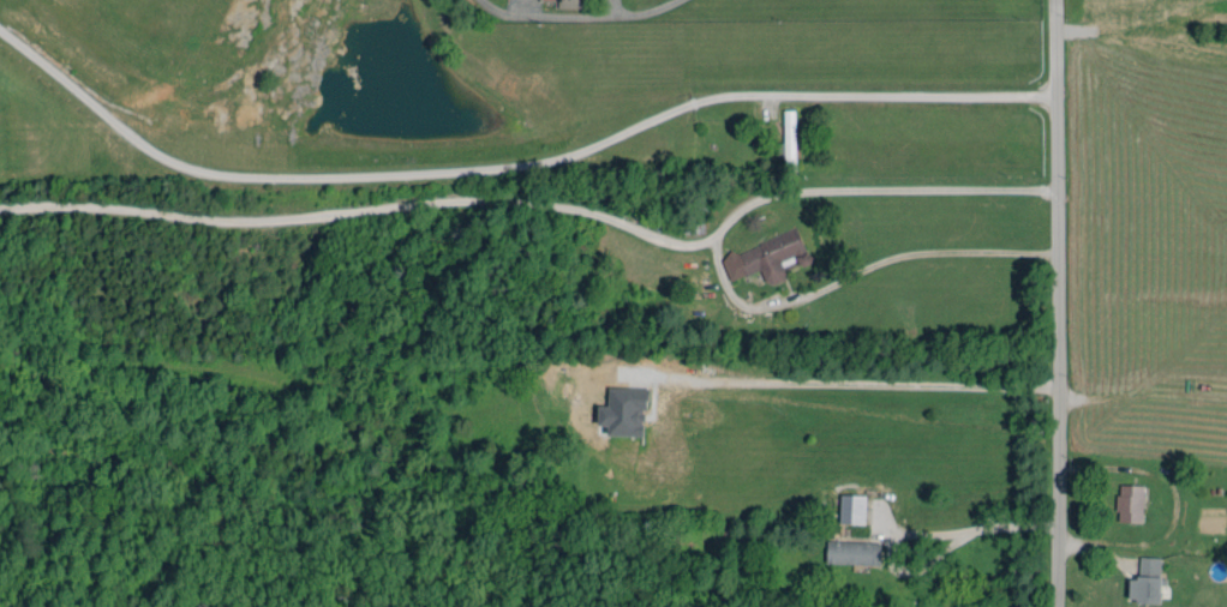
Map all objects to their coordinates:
building: (570, 4)
road: (640, 10)
building: (789, 140)
road: (509, 164)
road: (539, 203)
building: (767, 257)
road: (855, 274)
road: (1059, 303)
road: (861, 384)
building: (624, 411)
building: (1130, 503)
building: (852, 509)
road: (984, 527)
building: (852, 552)
building: (1147, 581)

